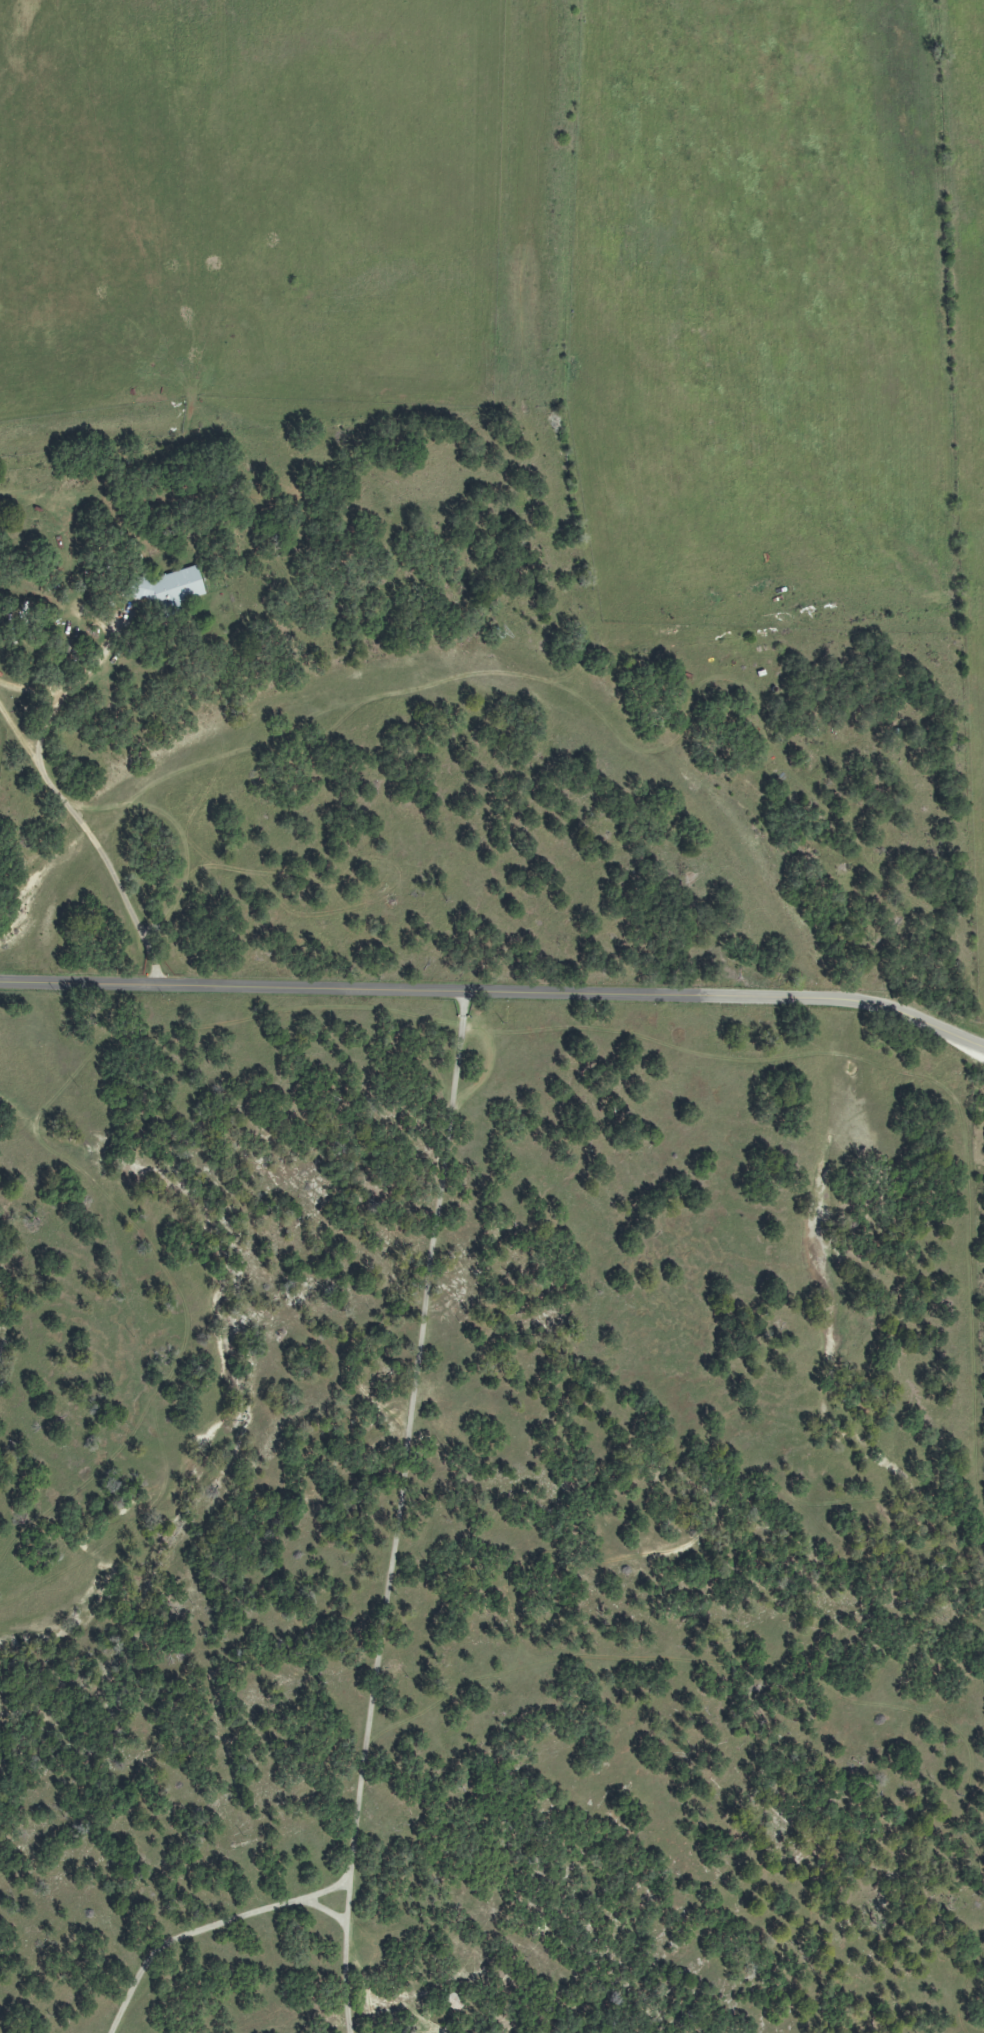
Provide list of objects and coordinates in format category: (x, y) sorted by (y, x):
building: (168, 588)
road: (76, 679)
road: (94, 840)
road: (496, 993)
road: (399, 1512)
road: (208, 1929)
building: (452, 2002)

